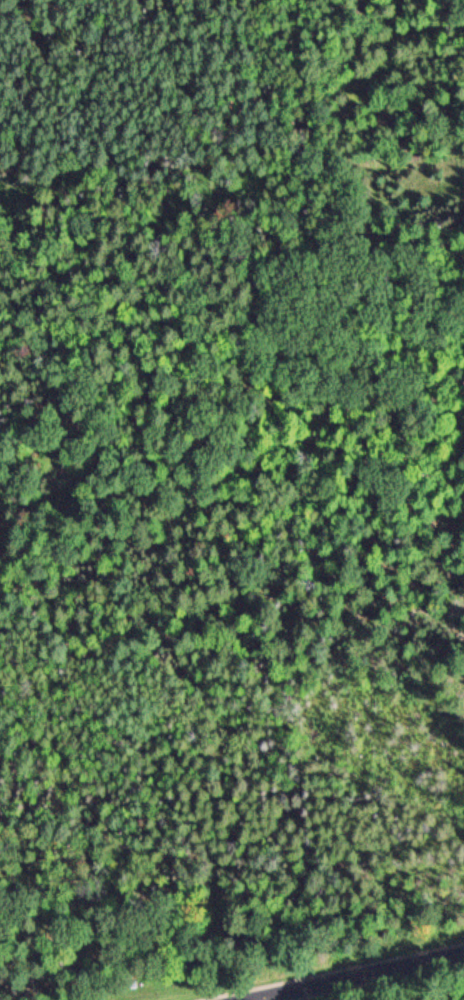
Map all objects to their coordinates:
road: (361, 976)

